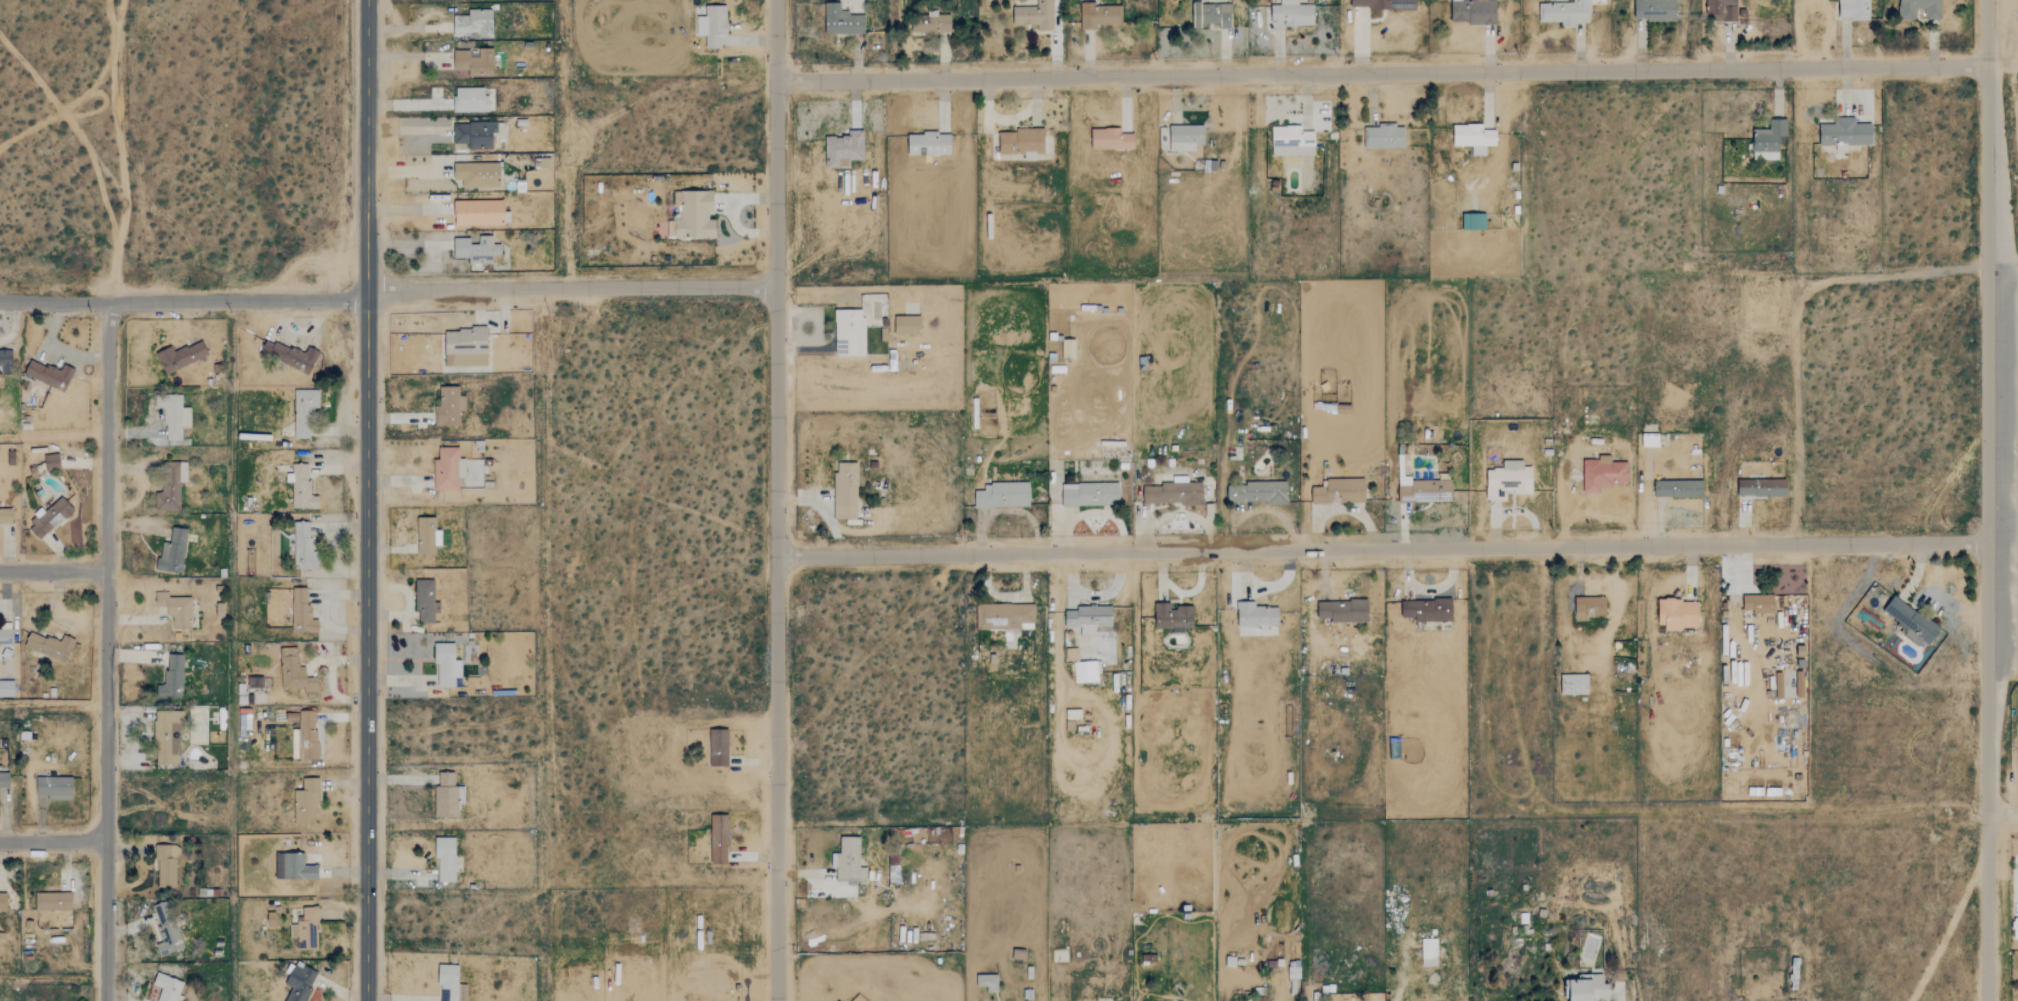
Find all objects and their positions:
building: (1383, 4)
building: (1919, 8)
building: (1723, 9)
building: (1854, 9)
building: (1654, 10)
building: (1473, 11)
building: (1565, 12)
building: (1293, 13)
building: (1213, 14)
building: (1035, 15)
building: (1099, 15)
building: (842, 20)
building: (473, 23)
building: (932, 23)
building: (710, 24)
road: (2002, 60)
building: (473, 61)
road: (1381, 76)
building: (470, 99)
building: (1845, 133)
building: (475, 134)
building: (1384, 136)
building: (1769, 136)
building: (1186, 137)
building: (1474, 138)
building: (1111, 139)
building: (1292, 141)
building: (1021, 142)
building: (929, 144)
building: (844, 149)
road: (122, 152)
building: (478, 174)
building: (479, 212)
building: (693, 216)
building: (1472, 218)
building: (476, 249)
road: (2008, 272)
road: (571, 287)
road: (55, 301)
road: (239, 301)
road: (1797, 319)
building: (907, 325)
building: (849, 332)
building: (465, 347)
building: (1068, 349)
building: (180, 356)
building: (289, 356)
building: (5, 362)
building: (49, 375)
building: (449, 407)
building: (304, 412)
building: (173, 416)
building: (1649, 440)
building: (52, 462)
building: (447, 469)
building: (1602, 474)
building: (1509, 479)
building: (171, 487)
building: (301, 487)
building: (1762, 487)
building: (1423, 489)
building: (1678, 489)
building: (845, 491)
building: (1339, 491)
building: (1258, 492)
building: (1090, 494)
building: (1173, 494)
building: (1003, 495)
road: (368, 500)
road: (775, 500)
road: (1996, 500)
road: (1594, 509)
building: (5, 516)
building: (50, 517)
building: (427, 536)
building: (303, 548)
road: (1399, 548)
building: (172, 552)
road: (53, 572)
building: (425, 601)
building: (1759, 603)
building: (1589, 607)
building: (1514, 608)
building: (175, 609)
building: (302, 610)
building: (1427, 610)
building: (1343, 611)
building: (1678, 614)
building: (1256, 615)
building: (1005, 617)
building: (1173, 617)
building: (1088, 619)
building: (1911, 622)
building: (6, 637)
building: (49, 646)
road: (107, 651)
building: (1072, 654)
building: (445, 666)
building: (1086, 672)
building: (295, 674)
building: (173, 676)
building: (255, 682)
building: (1574, 684)
building: (6, 689)
building: (245, 723)
building: (307, 736)
building: (167, 737)
building: (718, 748)
building: (4, 780)
building: (54, 788)
building: (447, 797)
building: (171, 800)
building: (306, 803)
road: (2002, 811)
building: (719, 838)
road: (53, 841)
building: (445, 859)
building: (849, 860)
building: (166, 864)
building: (293, 866)
building: (3, 901)
building: (53, 901)
building: (456, 918)
building: (271, 919)
building: (166, 927)
building: (306, 927)
building: (1429, 952)
building: (1294, 972)
building: (987, 981)
building: (299, 982)
building: (451, 984)
building: (167, 987)
building: (1587, 989)
building: (1261, 999)
road: (1619, 1000)

